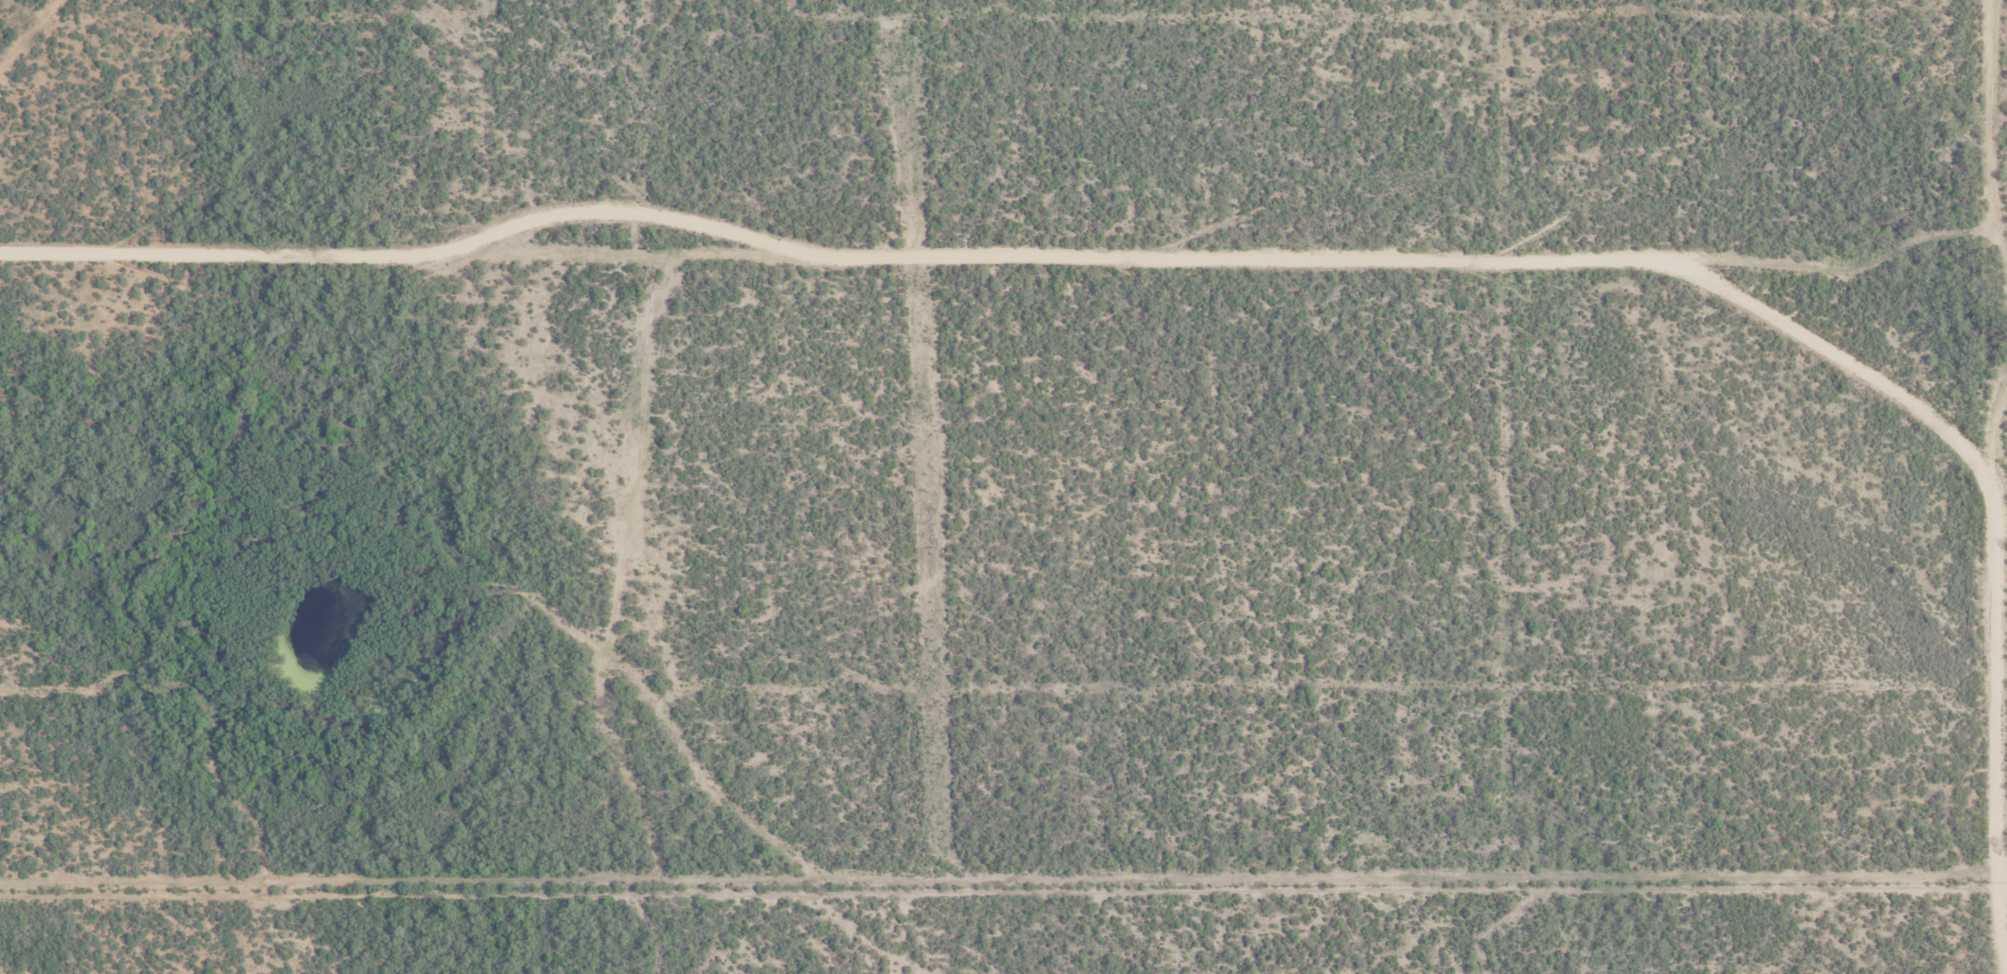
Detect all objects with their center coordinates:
road: (1993, 128)
road: (1993, 679)

